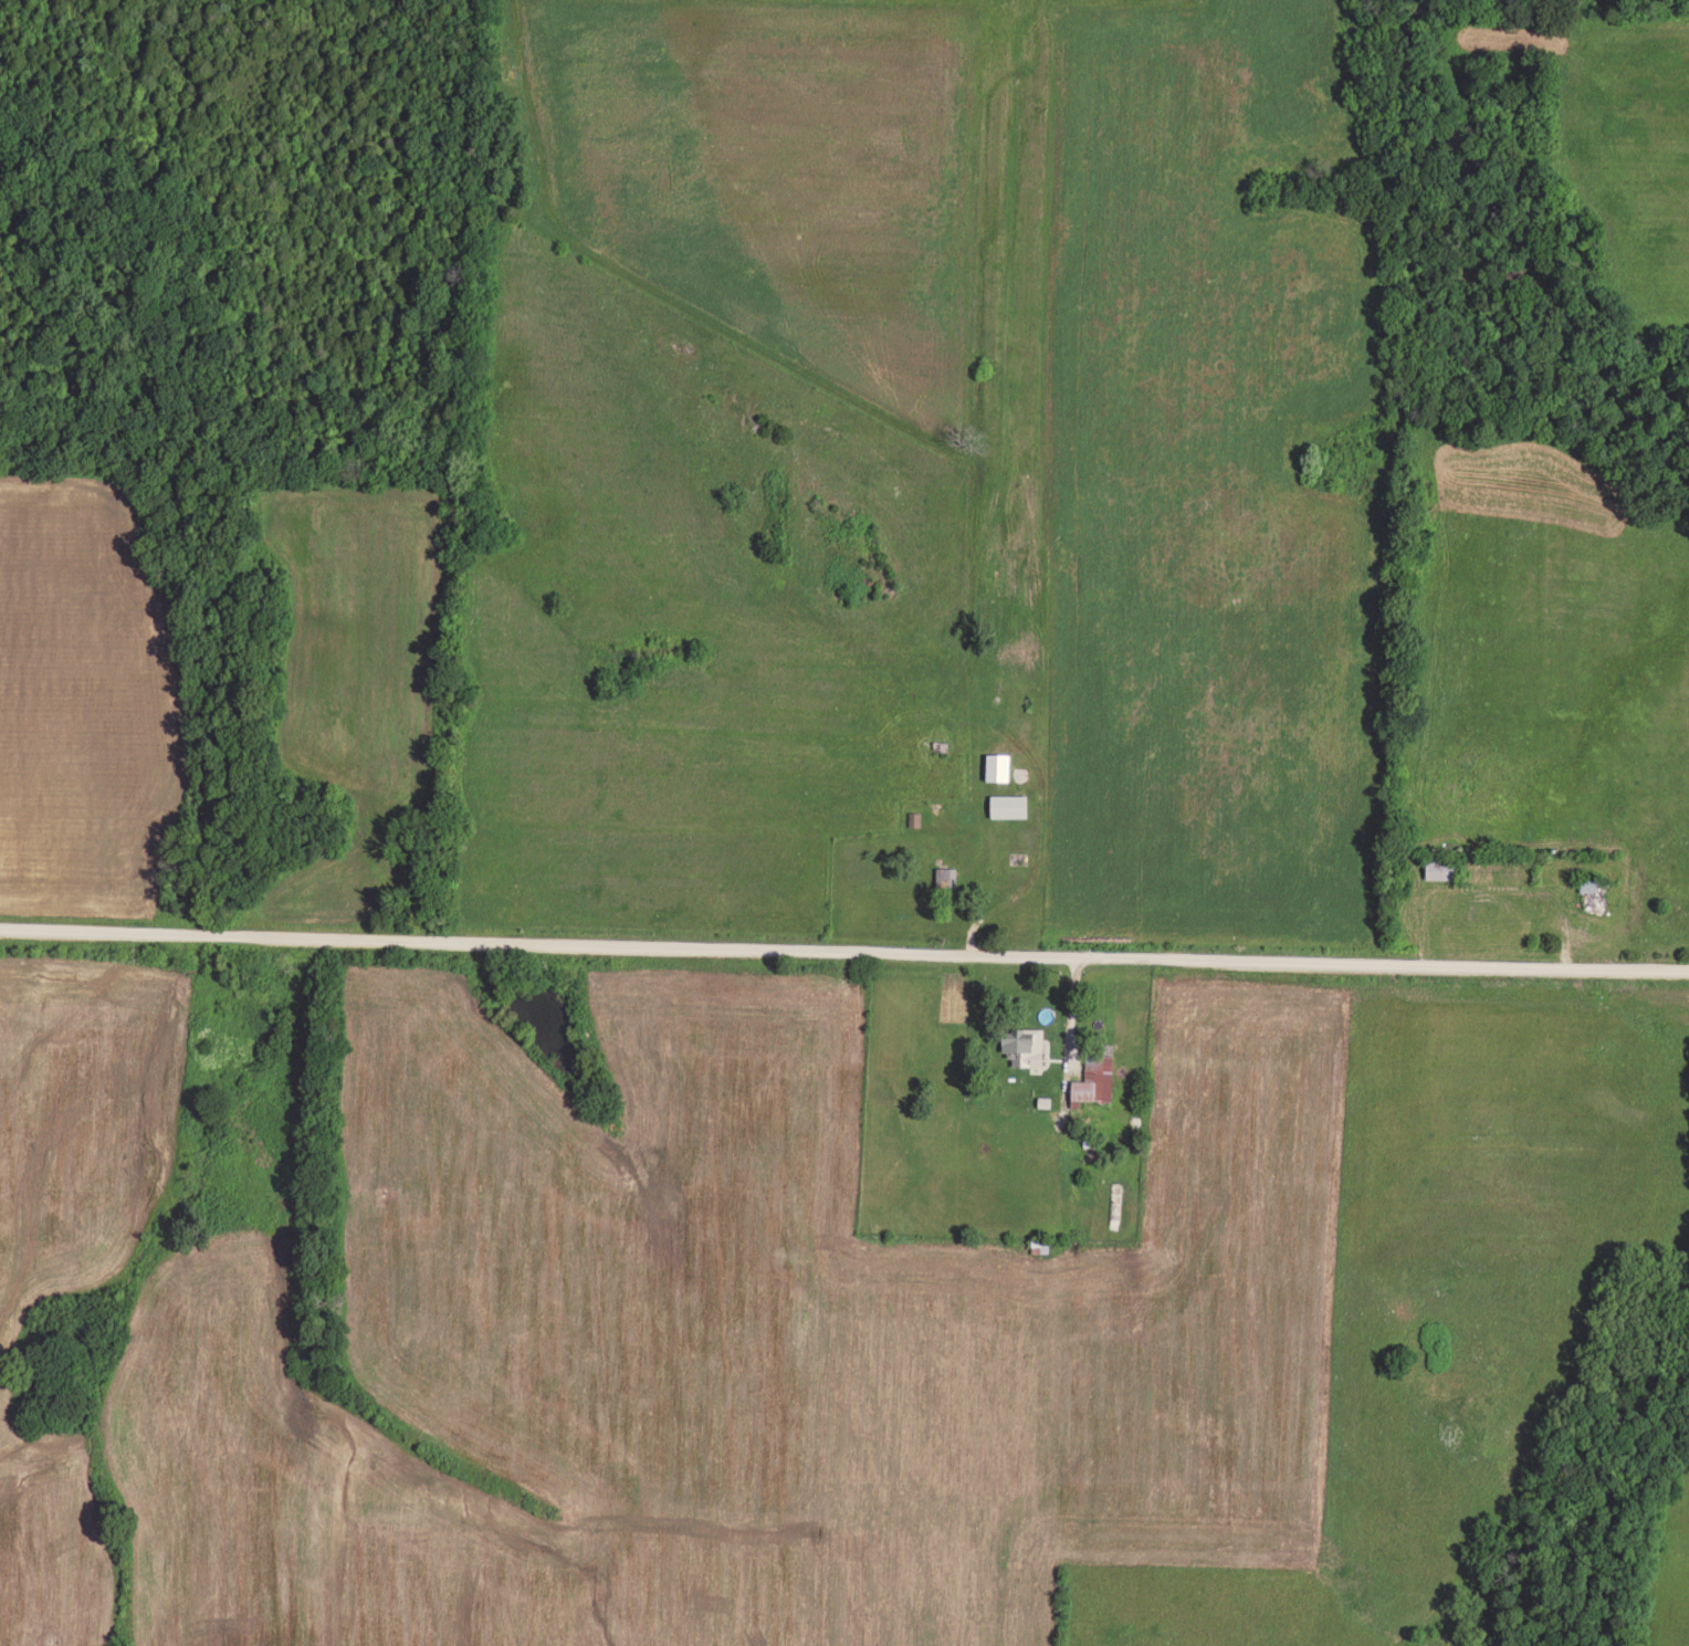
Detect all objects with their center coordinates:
building: (999, 765)
building: (1010, 804)
building: (1444, 868)
road: (1530, 882)
building: (1591, 883)
road: (843, 951)
road: (1071, 1032)
building: (1028, 1045)
building: (1097, 1078)

